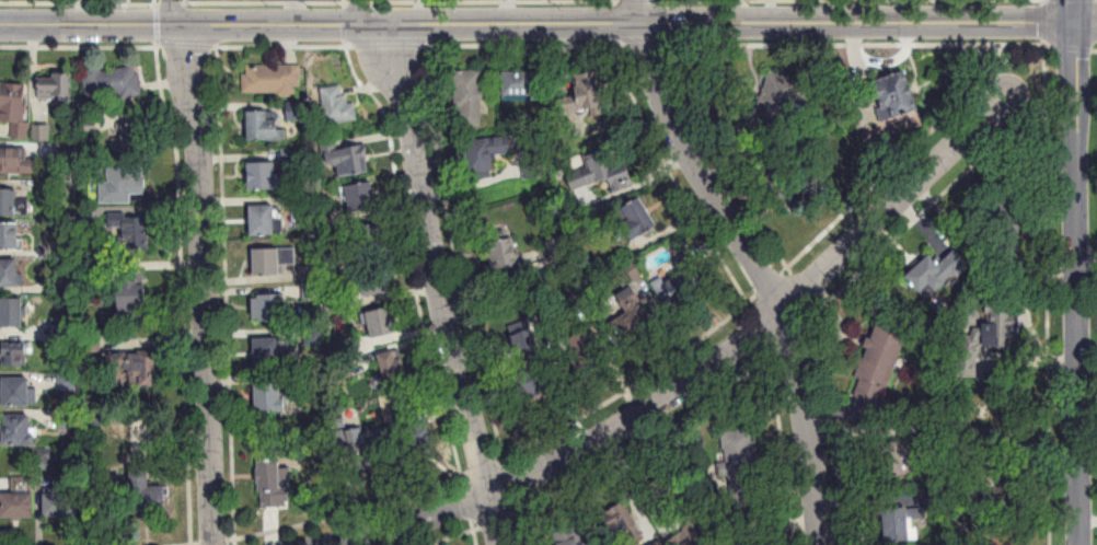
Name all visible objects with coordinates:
road: (638, 10)
road: (1074, 10)
road: (174, 12)
road: (360, 12)
road: (550, 21)
road: (1086, 21)
road: (13, 26)
building: (272, 79)
building: (113, 83)
building: (521, 84)
building: (55, 86)
building: (890, 94)
building: (469, 97)
building: (777, 101)
building: (337, 106)
building: (15, 108)
building: (297, 112)
building: (264, 127)
building: (135, 139)
building: (487, 154)
building: (345, 158)
building: (292, 159)
building: (16, 162)
building: (532, 165)
building: (263, 176)
building: (599, 181)
building: (124, 184)
building: (361, 197)
building: (12, 205)
building: (264, 220)
building: (638, 220)
building: (1004, 227)
building: (131, 231)
building: (10, 236)
building: (370, 240)
building: (555, 248)
road: (1086, 251)
building: (505, 256)
building: (273, 260)
road: (494, 271)
road: (760, 271)
building: (308, 272)
building: (938, 272)
building: (10, 274)
building: (374, 280)
road: (436, 281)
road: (1077, 282)
road: (204, 283)
building: (680, 286)
building: (311, 289)
building: (132, 294)
building: (269, 306)
road: (1026, 311)
building: (13, 314)
building: (636, 314)
building: (1001, 317)
building: (383, 323)
building: (582, 349)
building: (269, 352)
building: (13, 356)
building: (393, 366)
building: (879, 366)
road: (711, 367)
building: (137, 369)
building: (20, 393)
building: (272, 396)
building: (20, 431)
building: (416, 436)
building: (353, 442)
building: (900, 456)
building: (741, 466)
building: (275, 484)
building: (142, 496)
building: (19, 500)
building: (61, 503)
road: (1088, 519)
building: (900, 524)
building: (617, 527)
building: (570, 535)
building: (689, 535)
building: (1007, 535)
building: (658, 543)

